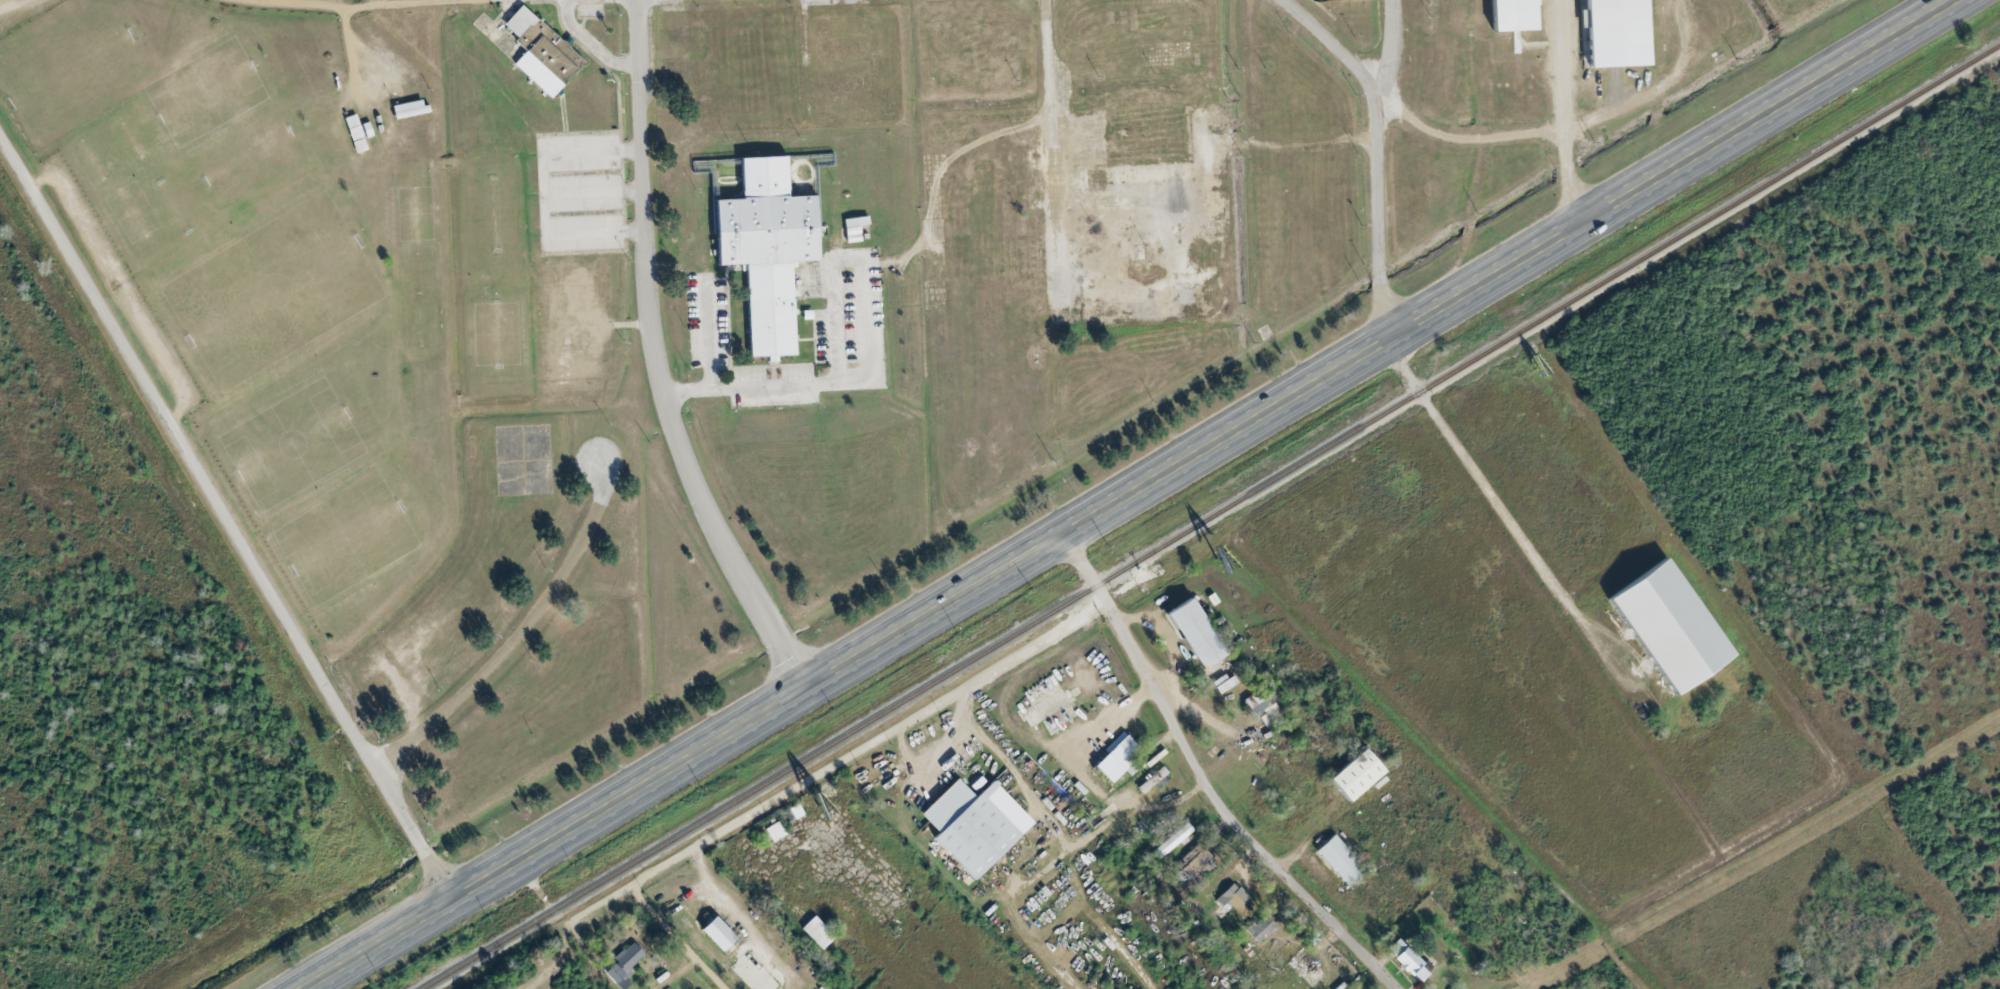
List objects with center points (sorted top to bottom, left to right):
building: (1513, 15)
building: (1616, 33)
road: (1391, 48)
building: (541, 52)
road: (1254, 56)
road: (1560, 111)
building: (355, 133)
road: (1506, 136)
road: (1378, 216)
building: (767, 230)
building: (851, 231)
road: (656, 360)
road: (1128, 494)
railway: (1212, 512)
road: (1501, 514)
road: (225, 519)
building: (1673, 628)
building: (1197, 635)
road: (519, 636)
building: (1224, 683)
building: (1272, 712)
road: (840, 760)
building: (1359, 773)
road: (1209, 779)
building: (1155, 780)
building: (974, 824)
building: (773, 831)
building: (1174, 838)
building: (1339, 860)
building: (1235, 899)
building: (1261, 930)
building: (717, 933)
building: (817, 933)
road: (678, 937)
building: (1407, 959)
building: (624, 966)

